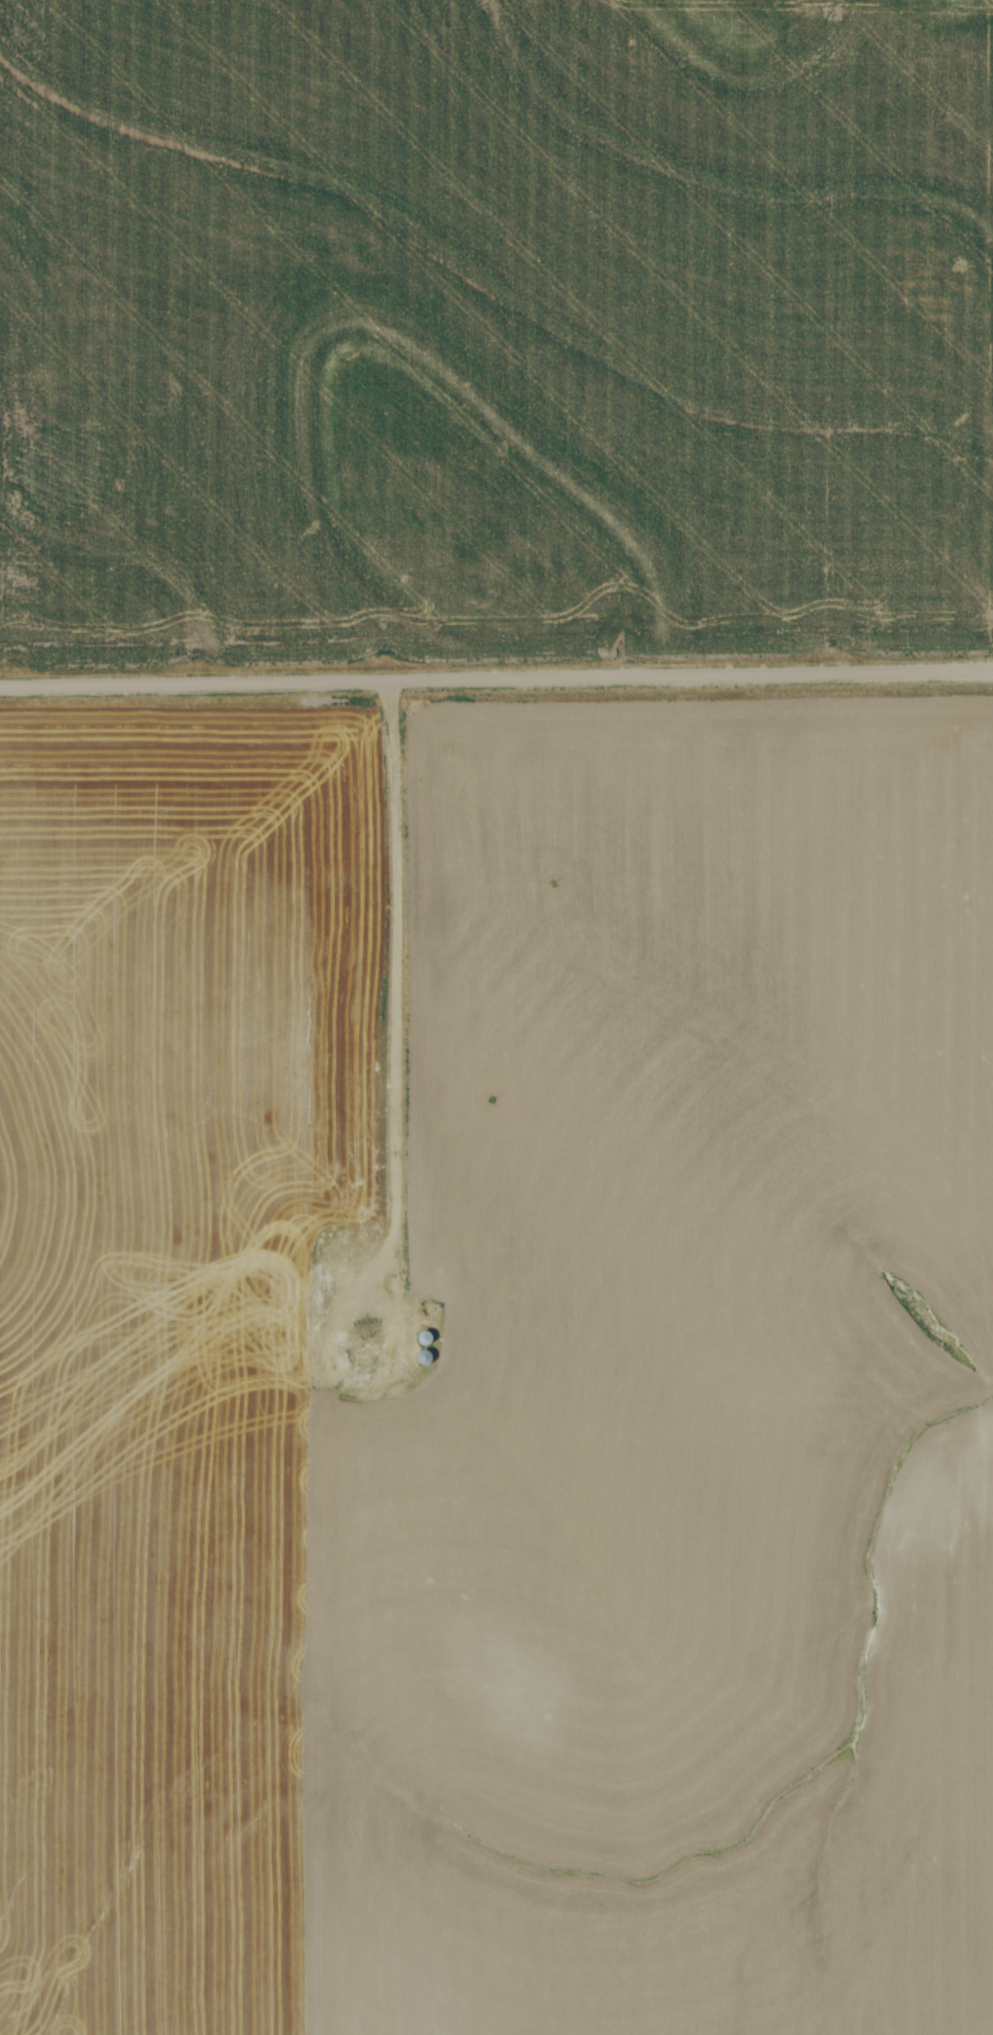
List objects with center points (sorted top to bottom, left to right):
road: (496, 680)
road: (391, 945)
building: (321, 1304)
building: (428, 1337)
building: (427, 1356)
building: (364, 1363)

